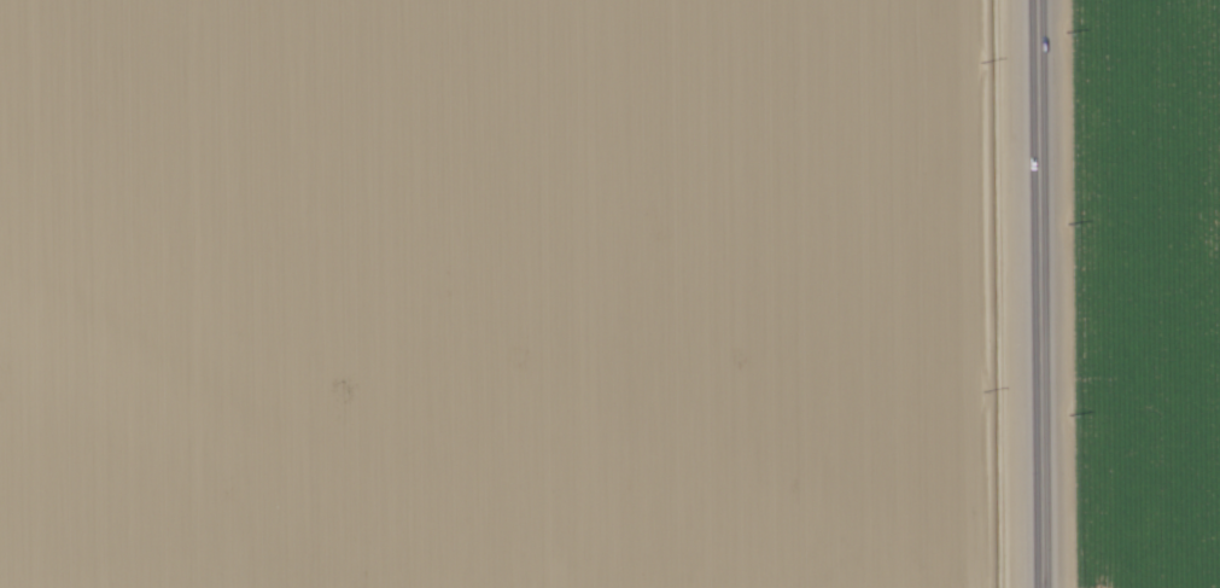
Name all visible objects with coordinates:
crop: (1156, 287)
crop: (497, 293)
road: (1041, 293)

